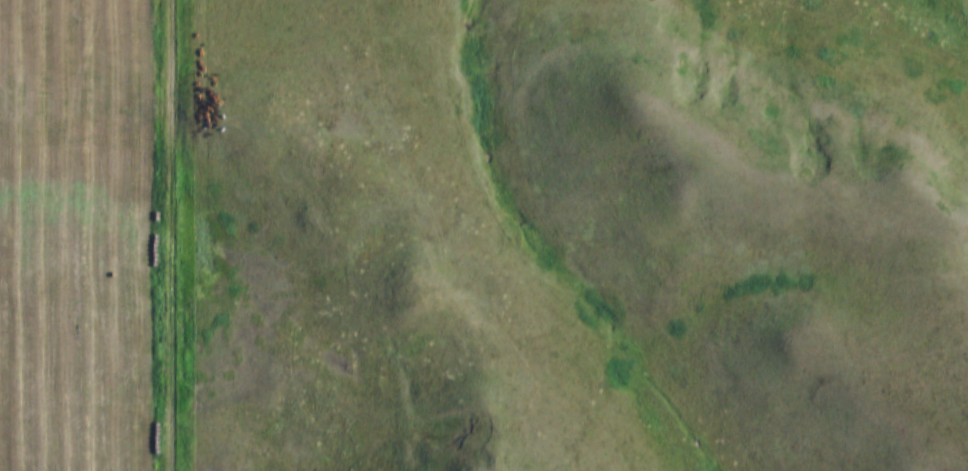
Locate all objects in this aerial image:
road: (171, 235)

